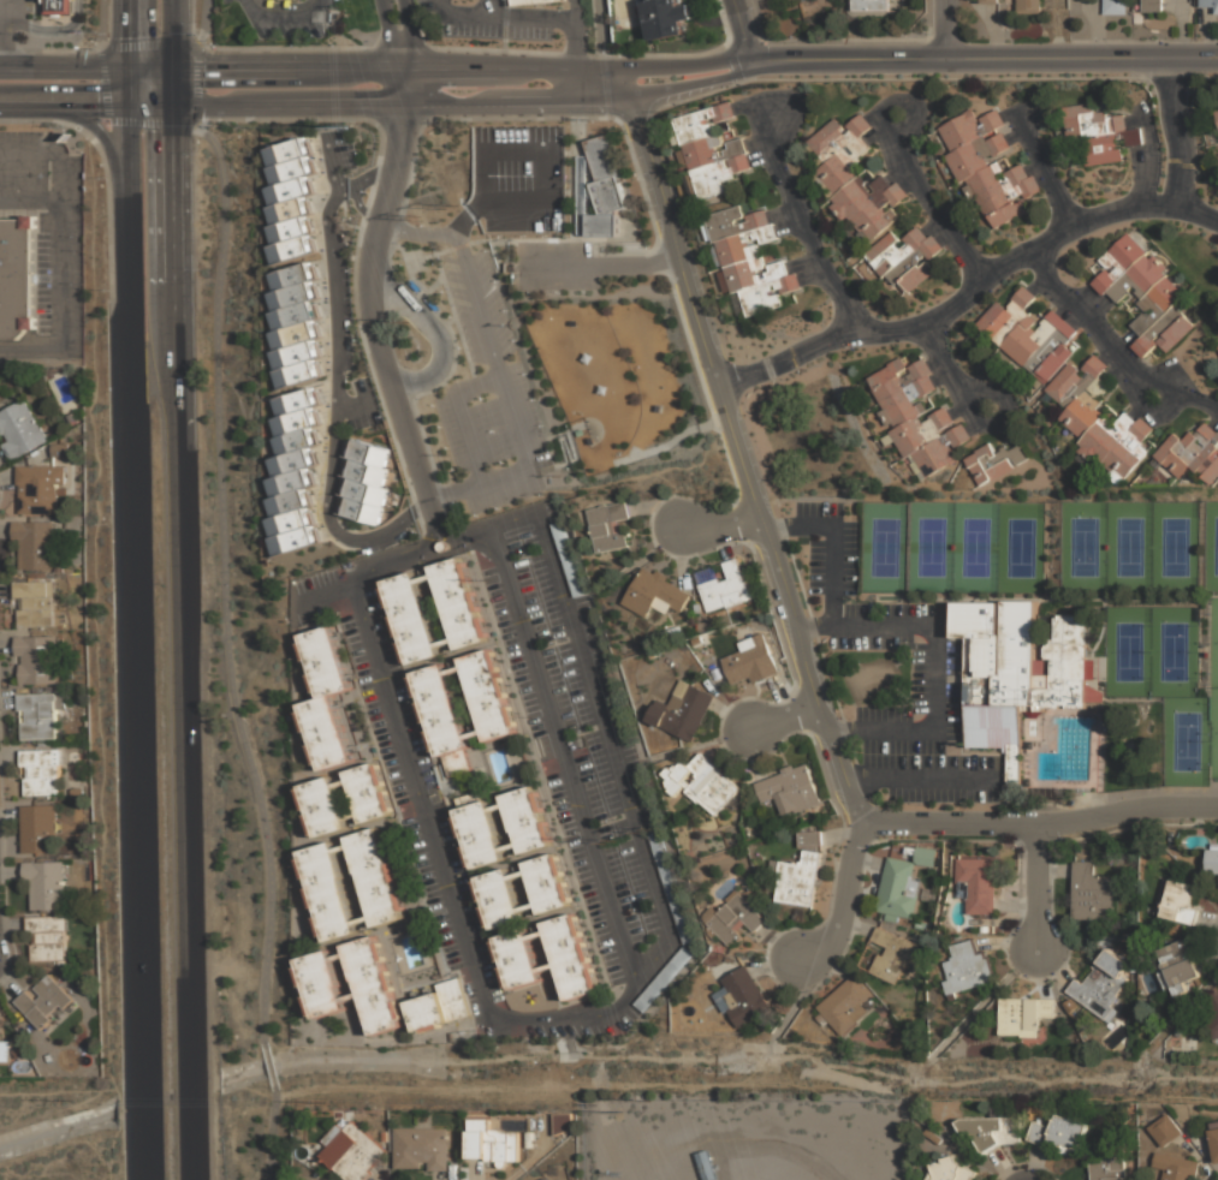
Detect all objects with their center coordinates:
building: (791, 0)
building: (993, 0)
building: (523, 1)
building: (1210, 4)
building: (869, 5)
building: (1152, 5)
building: (1030, 6)
building: (57, 7)
building: (1115, 7)
road: (572, 10)
road: (459, 16)
building: (666, 17)
road: (564, 18)
parking lot: (482, 19)
road: (285, 20)
road: (204, 22)
road: (945, 28)
road: (739, 30)
road: (171, 32)
road: (599, 32)
road: (1, 34)
road: (130, 34)
road: (391, 34)
road: (411, 34)
traffic signals: (130, 40)
road: (1081, 56)
road: (846, 59)
road: (682, 64)
traffic signals: (203, 66)
road: (287, 66)
road: (510, 66)
road: (64, 67)
road: (150, 67)
road: (103, 79)
road: (198, 83)
road: (691, 84)
road: (405, 85)
road: (130, 89)
road: (170, 89)
road: (518, 102)
road: (287, 107)
road: (744, 108)
road: (915, 109)
building: (1217, 109)
road: (65, 111)
traffic signals: (99, 111)
road: (149, 111)
building: (1217, 114)
road: (1011, 117)
road: (873, 118)
road: (1133, 121)
building: (1089, 123)
building: (705, 124)
road: (91, 125)
road: (99, 127)
building: (972, 130)
traffic signals: (170, 131)
power tower: (346, 131)
road: (1177, 132)
road: (875, 133)
road: (1015, 136)
building: (837, 137)
road: (756, 143)
building: (1109, 147)
building: (287, 151)
building: (713, 151)
building: (978, 156)
road: (760, 157)
parking lot: (29, 162)
road: (1147, 162)
building: (846, 166)
road: (1033, 168)
road: (1137, 169)
building: (291, 171)
road: (1041, 172)
road: (897, 173)
building: (719, 174)
road: (372, 177)
road: (1042, 181)
building: (997, 183)
road: (908, 185)
building: (605, 186)
road: (390, 189)
building: (289, 191)
building: (582, 195)
building: (858, 198)
road: (926, 201)
building: (1015, 204)
road: (361, 205)
power tower: (447, 207)
building: (289, 210)
road: (796, 214)
road: (782, 215)
power tower: (411, 219)
building: (877, 219)
building: (735, 225)
road: (931, 226)
road: (788, 228)
building: (290, 230)
road: (404, 233)
road: (944, 238)
building: (743, 248)
building: (291, 249)
building: (892, 251)
building: (1117, 263)
road: (802, 264)
road: (638, 266)
parking lot: (558, 267)
road: (558, 267)
road: (64, 269)
building: (915, 269)
building: (753, 274)
building: (16, 276)
building: (292, 276)
road: (813, 279)
building: (1137, 279)
road: (1038, 282)
road: (969, 293)
building: (293, 296)
road: (471, 297)
building: (767, 297)
road: (1087, 298)
building: (1155, 304)
road: (1099, 308)
road: (1064, 309)
building: (1008, 315)
building: (293, 316)
road: (1087, 318)
road: (1075, 320)
building: (572, 323)
building: (1213, 329)
road: (375, 330)
road: (438, 333)
building: (1163, 334)
building: (293, 335)
building: (1029, 336)
road: (1123, 342)
building: (1053, 353)
building: (295, 354)
road: (1105, 354)
building: (587, 358)
road: (941, 362)
road: (1129, 362)
road: (934, 363)
building: (296, 374)
road: (1111, 374)
parking lot: (476, 376)
building: (896, 377)
road: (941, 381)
building: (1074, 381)
road: (979, 386)
road: (476, 387)
park: (613, 387)
building: (602, 389)
road: (1136, 397)
road: (1193, 400)
building: (296, 401)
road: (337, 403)
building: (907, 404)
building: (656, 409)
road: (956, 410)
building: (1086, 410)
road: (1135, 411)
building: (71, 417)
road: (1148, 417)
building: (295, 422)
road: (1214, 422)
road: (510, 423)
road: (970, 428)
building: (19, 430)
building: (923, 430)
road: (1006, 431)
building: (581, 433)
building: (1106, 436)
road: (467, 437)
building: (295, 441)
building: (590, 441)
road: (738, 445)
building: (1187, 449)
building: (59, 451)
building: (1127, 452)
building: (368, 453)
building: (938, 453)
road: (412, 455)
building: (291, 463)
building: (996, 463)
building: (1208, 463)
building: (367, 471)
road: (494, 475)
building: (289, 483)
building: (38, 488)
building: (60, 491)
building: (367, 491)
road: (446, 491)
building: (289, 502)
road: (661, 506)
road: (422, 507)
building: (363, 509)
building: (289, 522)
road: (726, 524)
building: (608, 529)
road: (782, 530)
road: (447, 532)
road: (429, 538)
building: (293, 541)
road: (720, 543)
building: (34, 544)
building: (441, 546)
park: (1020, 547)
park: (1083, 547)
park: (1129, 547)
park: (1211, 547)
park: (884, 548)
park: (929, 548)
park: (975, 548)
park: (1175, 548)
road: (679, 558)
building: (568, 559)
building: (58, 568)
building: (37, 576)
road: (221, 585)
building: (727, 589)
road: (178, 590)
road: (137, 591)
road: (326, 594)
building: (655, 596)
building: (34, 603)
building: (458, 603)
building: (411, 619)
road: (814, 627)
road: (909, 628)
park: (1213, 644)
park: (1127, 652)
park: (1171, 652)
building: (36, 658)
building: (323, 661)
building: (749, 662)
road: (95, 666)
building: (1016, 673)
parking lot: (896, 677)
building: (487, 695)
road: (777, 696)
building: (439, 710)
building: (682, 713)
road: (784, 715)
building: (37, 716)
road: (729, 717)
building: (87, 723)
road: (602, 727)
road: (840, 731)
building: (325, 732)
park: (1213, 733)
road: (725, 741)
park: (1186, 741)
building: (457, 763)
building: (41, 771)
road: (854, 781)
road: (929, 781)
building: (709, 786)
building: (789, 789)
building: (76, 792)
building: (366, 793)
building: (470, 799)
building: (321, 807)
building: (525, 820)
road: (1039, 824)
building: (38, 829)
power tower: (641, 829)
building: (479, 834)
road: (839, 835)
building: (809, 839)
power tower: (605, 840)
building: (925, 857)
building: (1212, 859)
road: (869, 862)
building: (1202, 865)
road: (1053, 870)
building: (374, 876)
building: (798, 881)
building: (546, 883)
building: (44, 884)
building: (980, 884)
building: (671, 888)
road: (1035, 888)
building: (327, 890)
building: (898, 890)
building: (1092, 893)
building: (498, 899)
road: (843, 900)
building: (1176, 901)
road: (1016, 905)
building: (735, 920)
road: (856, 928)
building: (1169, 932)
building: (47, 937)
building: (1125, 937)
building: (1107, 938)
road: (1005, 943)
building: (1133, 943)
road: (778, 947)
building: (569, 956)
building: (890, 956)
building: (518, 959)
building: (61, 963)
building: (1133, 965)
road: (631, 966)
road: (834, 966)
building: (1176, 967)
road: (776, 969)
building: (968, 969)
road: (1052, 969)
road: (1039, 975)
building: (663, 979)
building: (322, 984)
building: (374, 984)
building: (1100, 985)
building: (745, 997)
building: (43, 1001)
building: (849, 1006)
building: (1070, 1006)
building: (439, 1007)
building: (1213, 1015)
building: (1024, 1017)
building: (1110, 1025)
building: (1178, 1031)
building: (5, 1051)
building: (17, 1051)
road: (269, 1067)
road: (117, 1087)
road: (149, 1102)
road: (188, 1103)
road: (121, 1110)
building: (997, 1112)
building: (339, 1114)
building: (1041, 1121)
building: (562, 1122)
building: (1164, 1130)
building: (992, 1131)
road: (272, 1132)
building: (1062, 1134)
building: (332, 1136)
building: (384, 1136)
building: (932, 1136)
building: (1214, 1138)
power substation: (745, 1139)
building: (491, 1143)
building: (421, 1148)
road: (113, 1152)
building: (352, 1152)
road: (800, 1155)
road: (150, 1157)
road: (188, 1157)
building: (706, 1166)
building: (1175, 1167)
building: (1107, 1168)
building: (950, 1170)
building: (315, 1174)
road: (1028, 1178)
building: (543, 1179)

